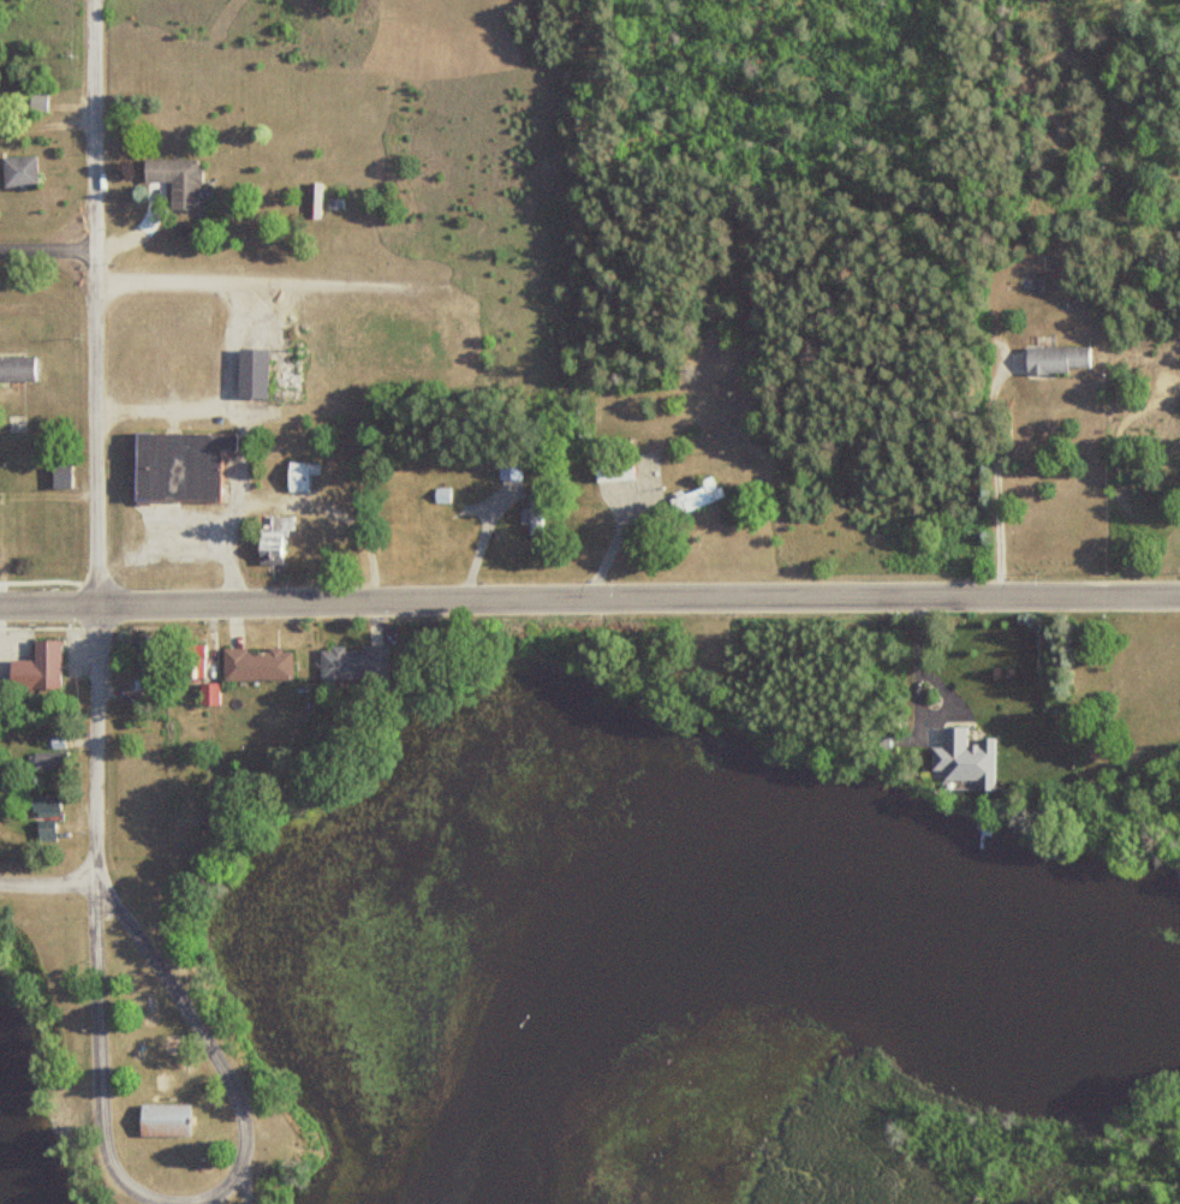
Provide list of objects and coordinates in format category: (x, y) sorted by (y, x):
building: (17, 171)
building: (174, 180)
building: (311, 201)
road: (67, 228)
road: (14, 249)
road: (64, 263)
road: (243, 281)
building: (1055, 359)
building: (16, 369)
building: (250, 370)
road: (219, 404)
road: (94, 437)
building: (178, 466)
building: (507, 466)
building: (610, 467)
road: (989, 471)
building: (298, 476)
building: (58, 477)
building: (696, 496)
building: (532, 512)
building: (269, 535)
building: (332, 544)
road: (590, 598)
building: (141, 661)
building: (192, 661)
building: (346, 663)
building: (254, 664)
building: (42, 666)
building: (205, 693)
building: (961, 759)
building: (40, 810)
road: (47, 884)
river: (756, 956)
building: (162, 1120)
road: (195, 1197)

